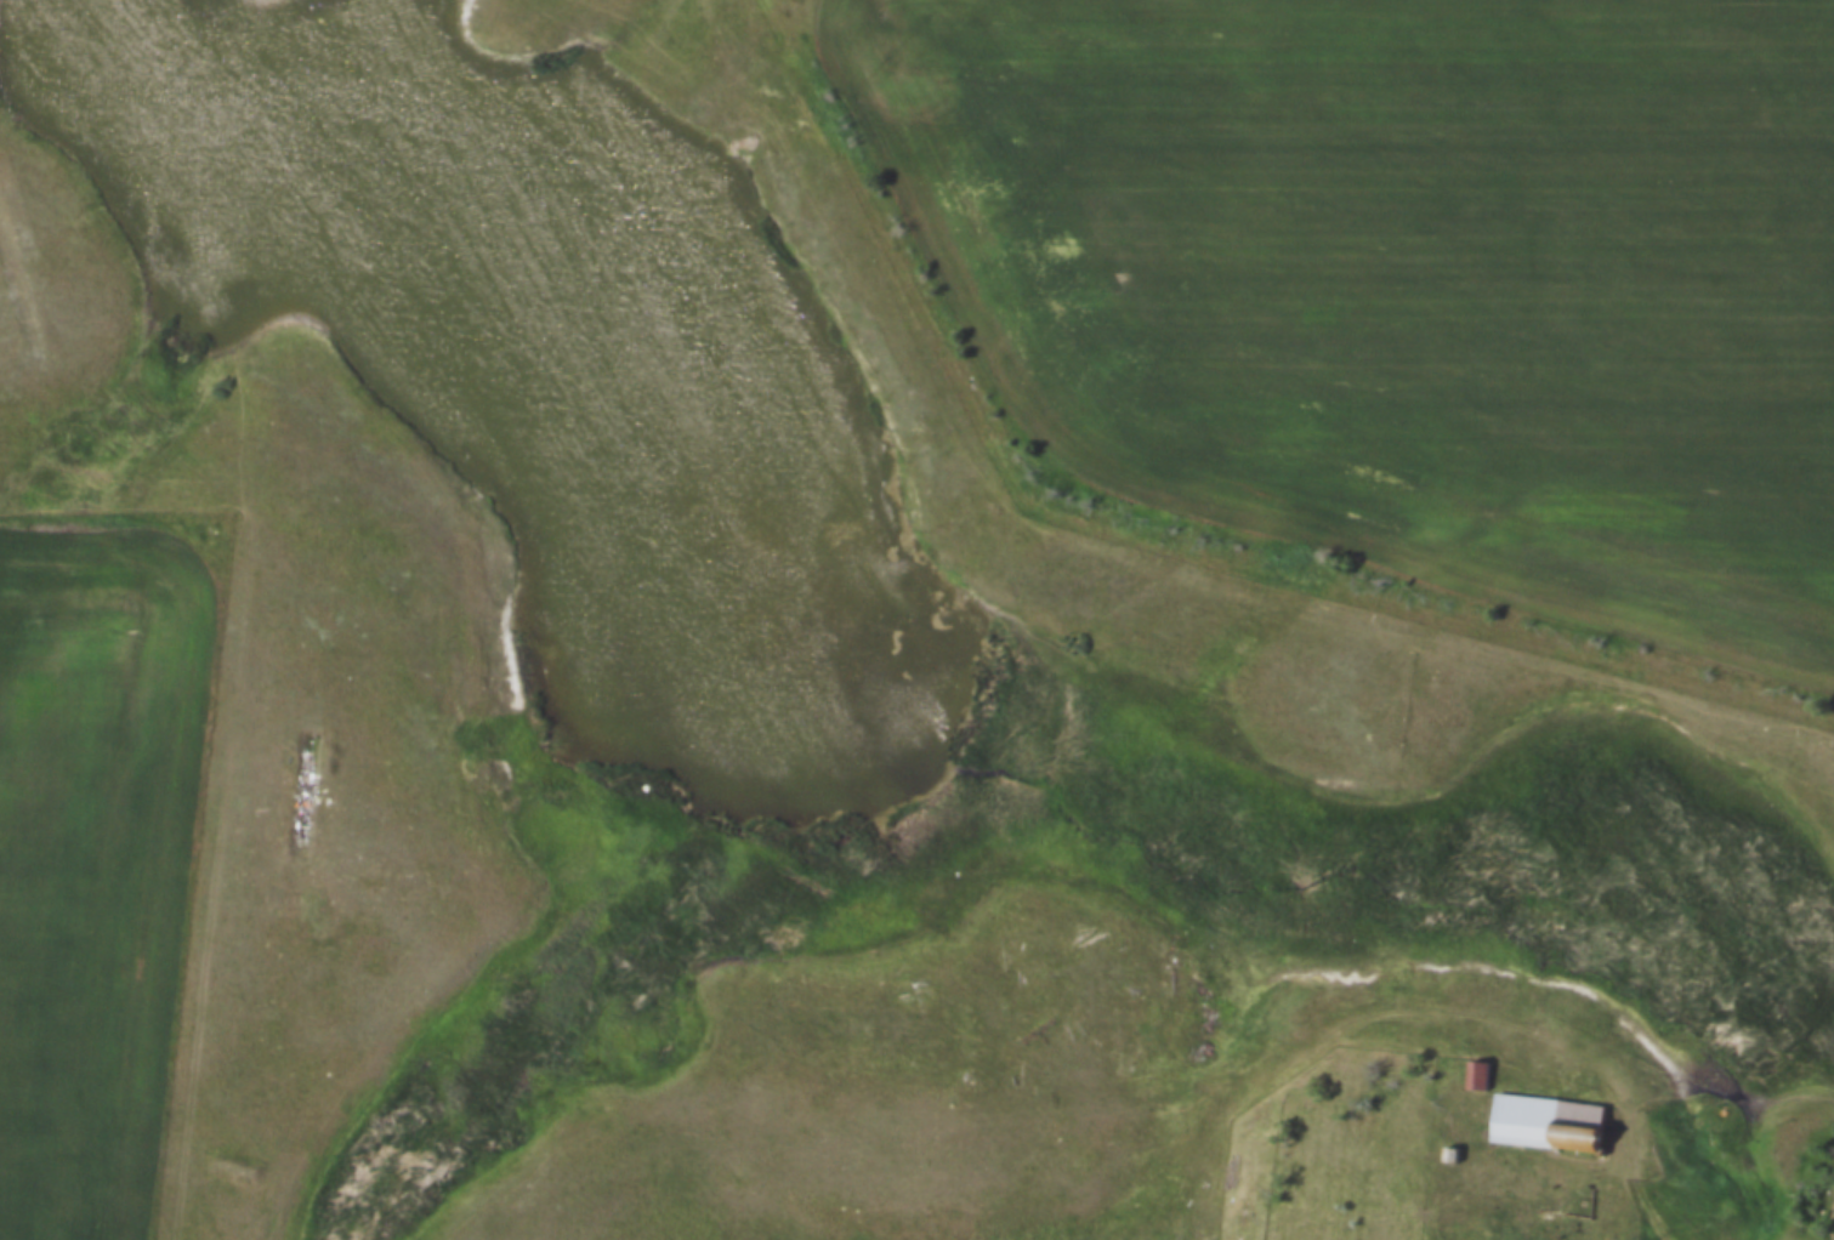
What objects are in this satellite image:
building: (1472, 1065)
building: (1477, 1077)
building: (1543, 1115)
building: (1446, 1147)
road: (1650, 1190)

